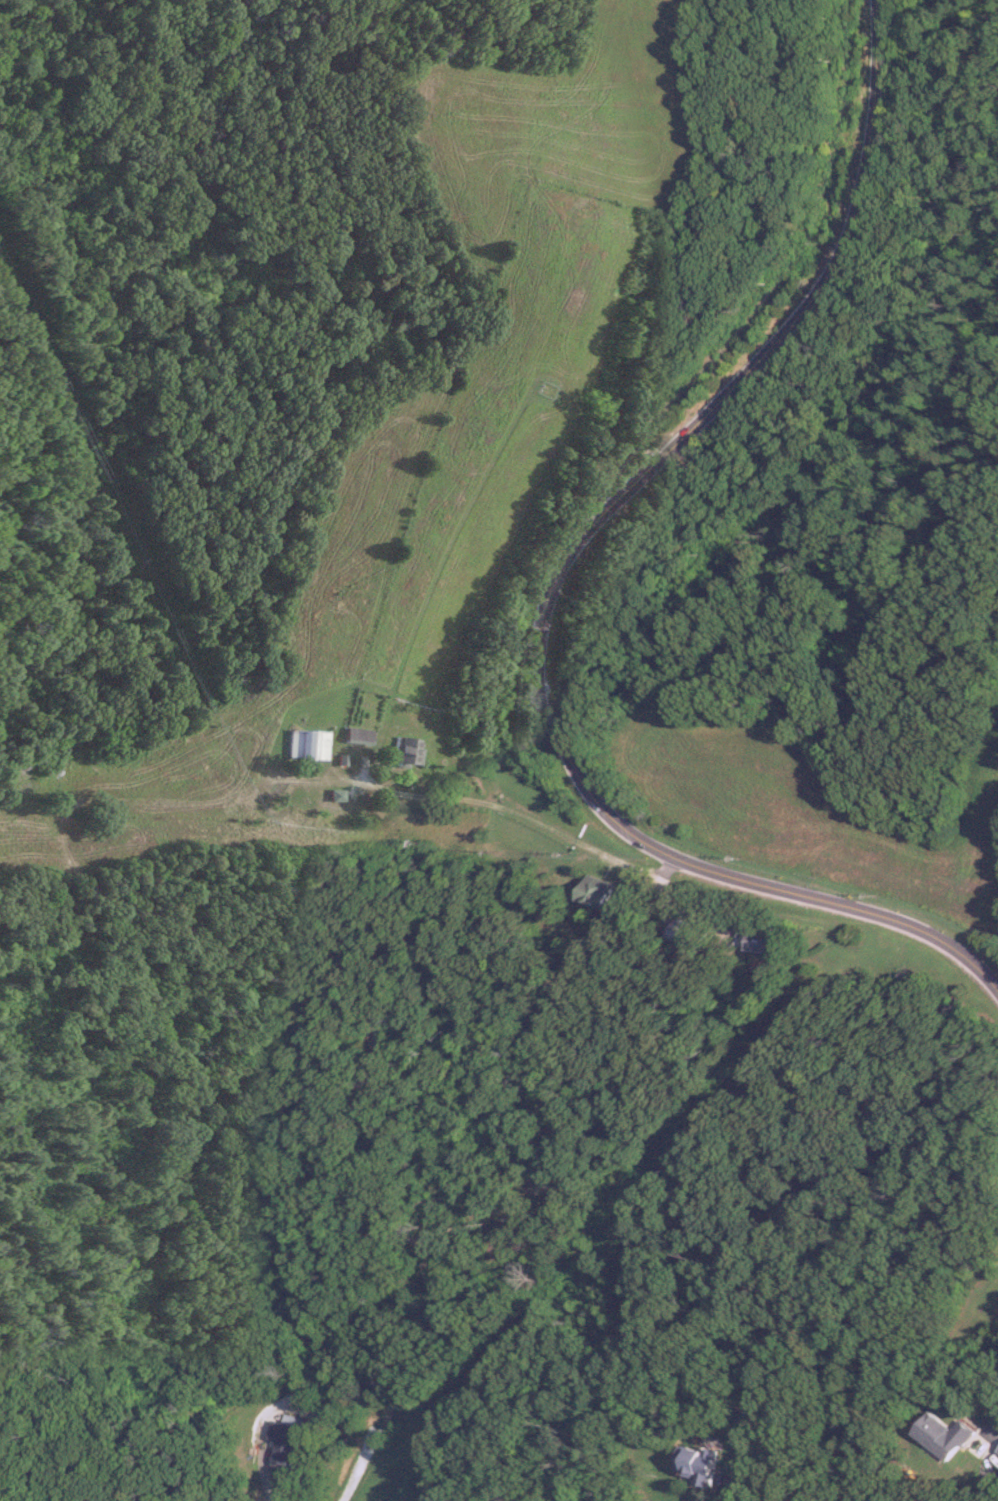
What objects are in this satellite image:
road: (558, 585)
building: (359, 736)
building: (310, 745)
building: (403, 750)
road: (530, 819)
building: (602, 892)
building: (694, 934)
building: (775, 941)
road: (994, 1427)
building: (949, 1436)
building: (285, 1443)
building: (706, 1465)
road: (260, 1475)

